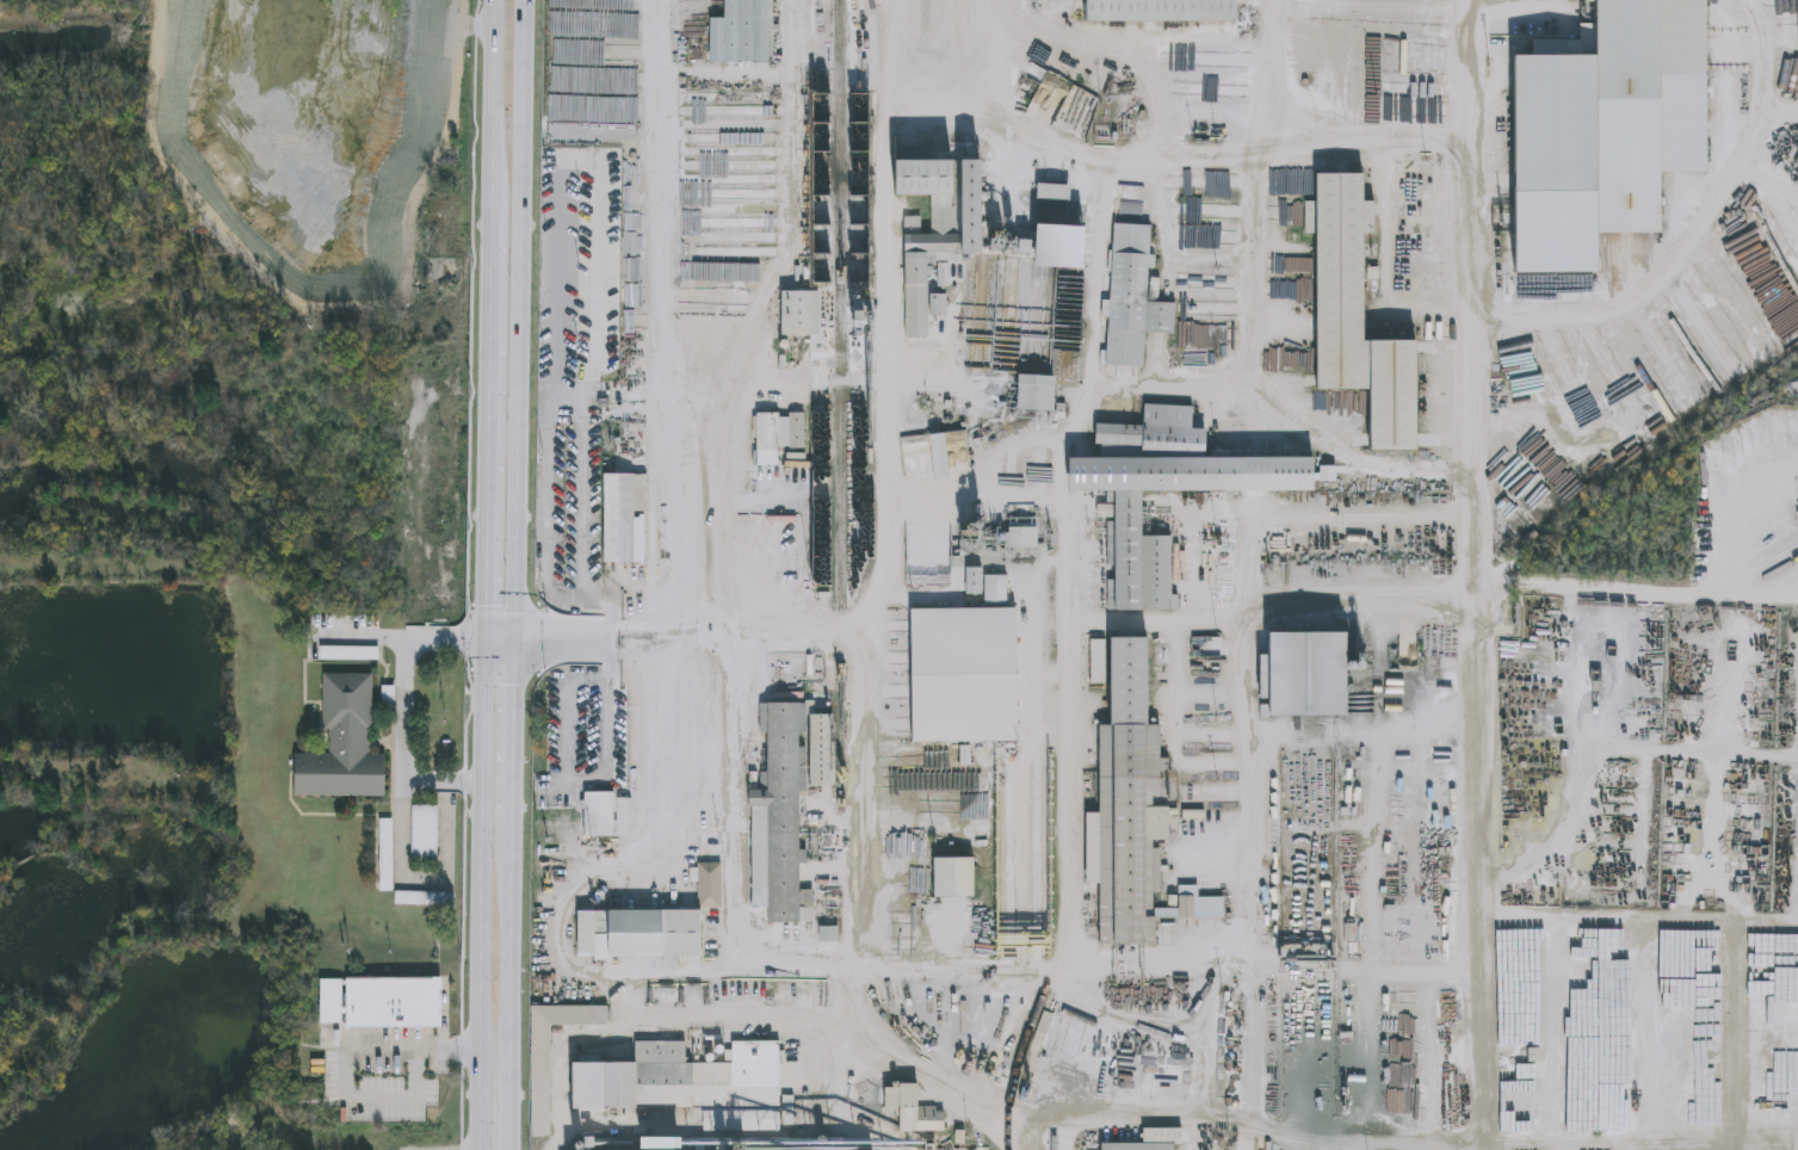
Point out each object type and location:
building: (1162, 11)
building: (741, 33)
road: (734, 73)
road: (1465, 76)
building: (1604, 86)
road: (496, 106)
road: (581, 160)
road: (1464, 166)
building: (1054, 193)
road: (672, 209)
road: (791, 223)
building: (929, 240)
building: (1054, 247)
building: (1132, 298)
building: (801, 314)
building: (1363, 319)
building: (1038, 394)
road: (573, 406)
road: (490, 428)
building: (797, 431)
building: (768, 449)
building: (1123, 513)
building: (624, 519)
road: (518, 574)
railway: (839, 599)
road: (640, 625)
road: (537, 633)
building: (422, 644)
road: (643, 657)
road: (539, 659)
building: (401, 668)
building: (1099, 674)
building: (1310, 675)
road: (402, 703)
building: (344, 743)
building: (1130, 804)
building: (600, 815)
building: (781, 820)
building: (424, 830)
road: (650, 841)
building: (384, 853)
building: (949, 876)
building: (711, 886)
building: (415, 897)
road: (486, 897)
building: (1351, 934)
building: (642, 935)
building: (829, 936)
road: (851, 988)
railway: (1040, 998)
building: (330, 1000)
building: (394, 1001)
building: (573, 1018)
road: (470, 1046)
railway: (952, 1052)
building: (693, 1087)
road: (347, 1093)
building: (914, 1112)
building: (1153, 1142)

